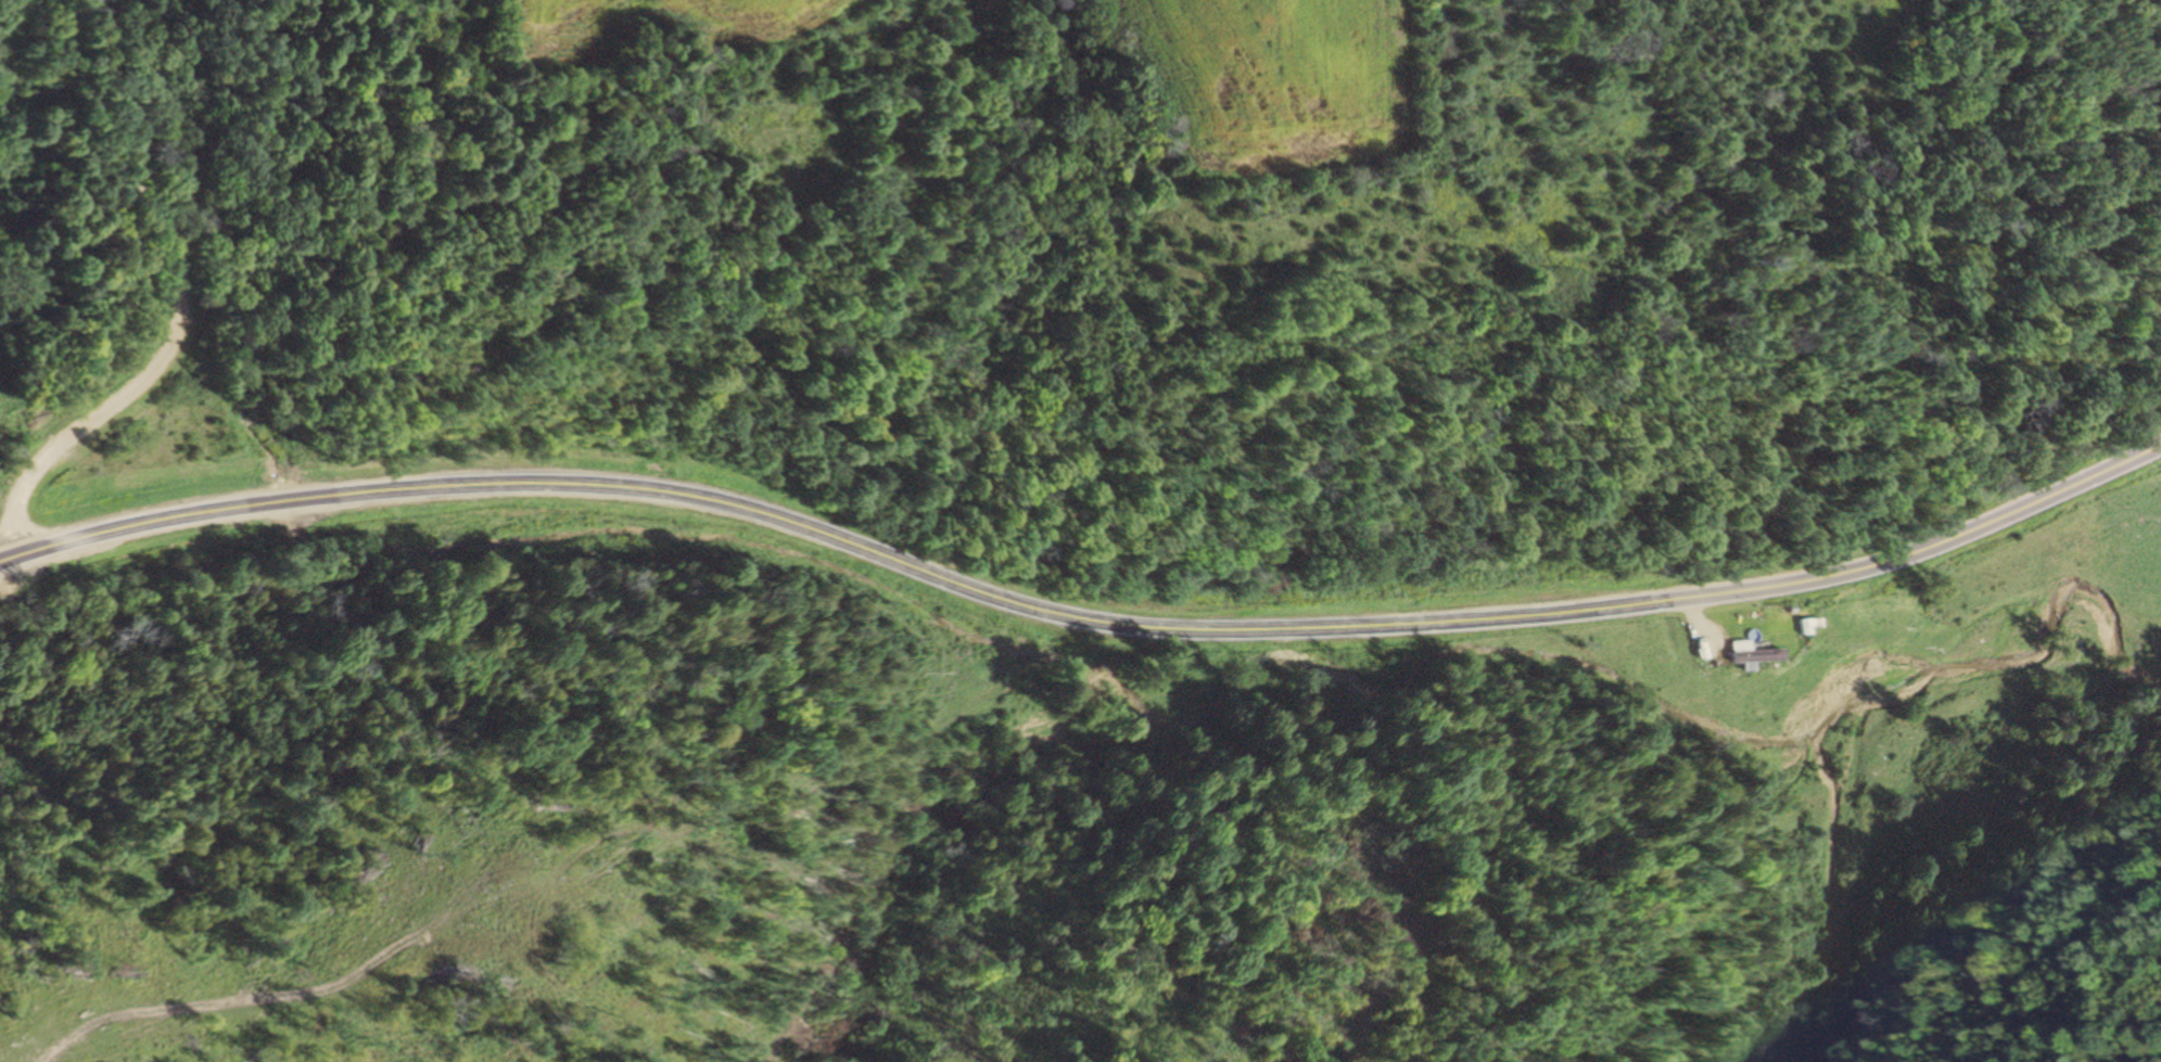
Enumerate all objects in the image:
road: (177, 306)
road: (1081, 619)
building: (1805, 627)
building: (1746, 654)

